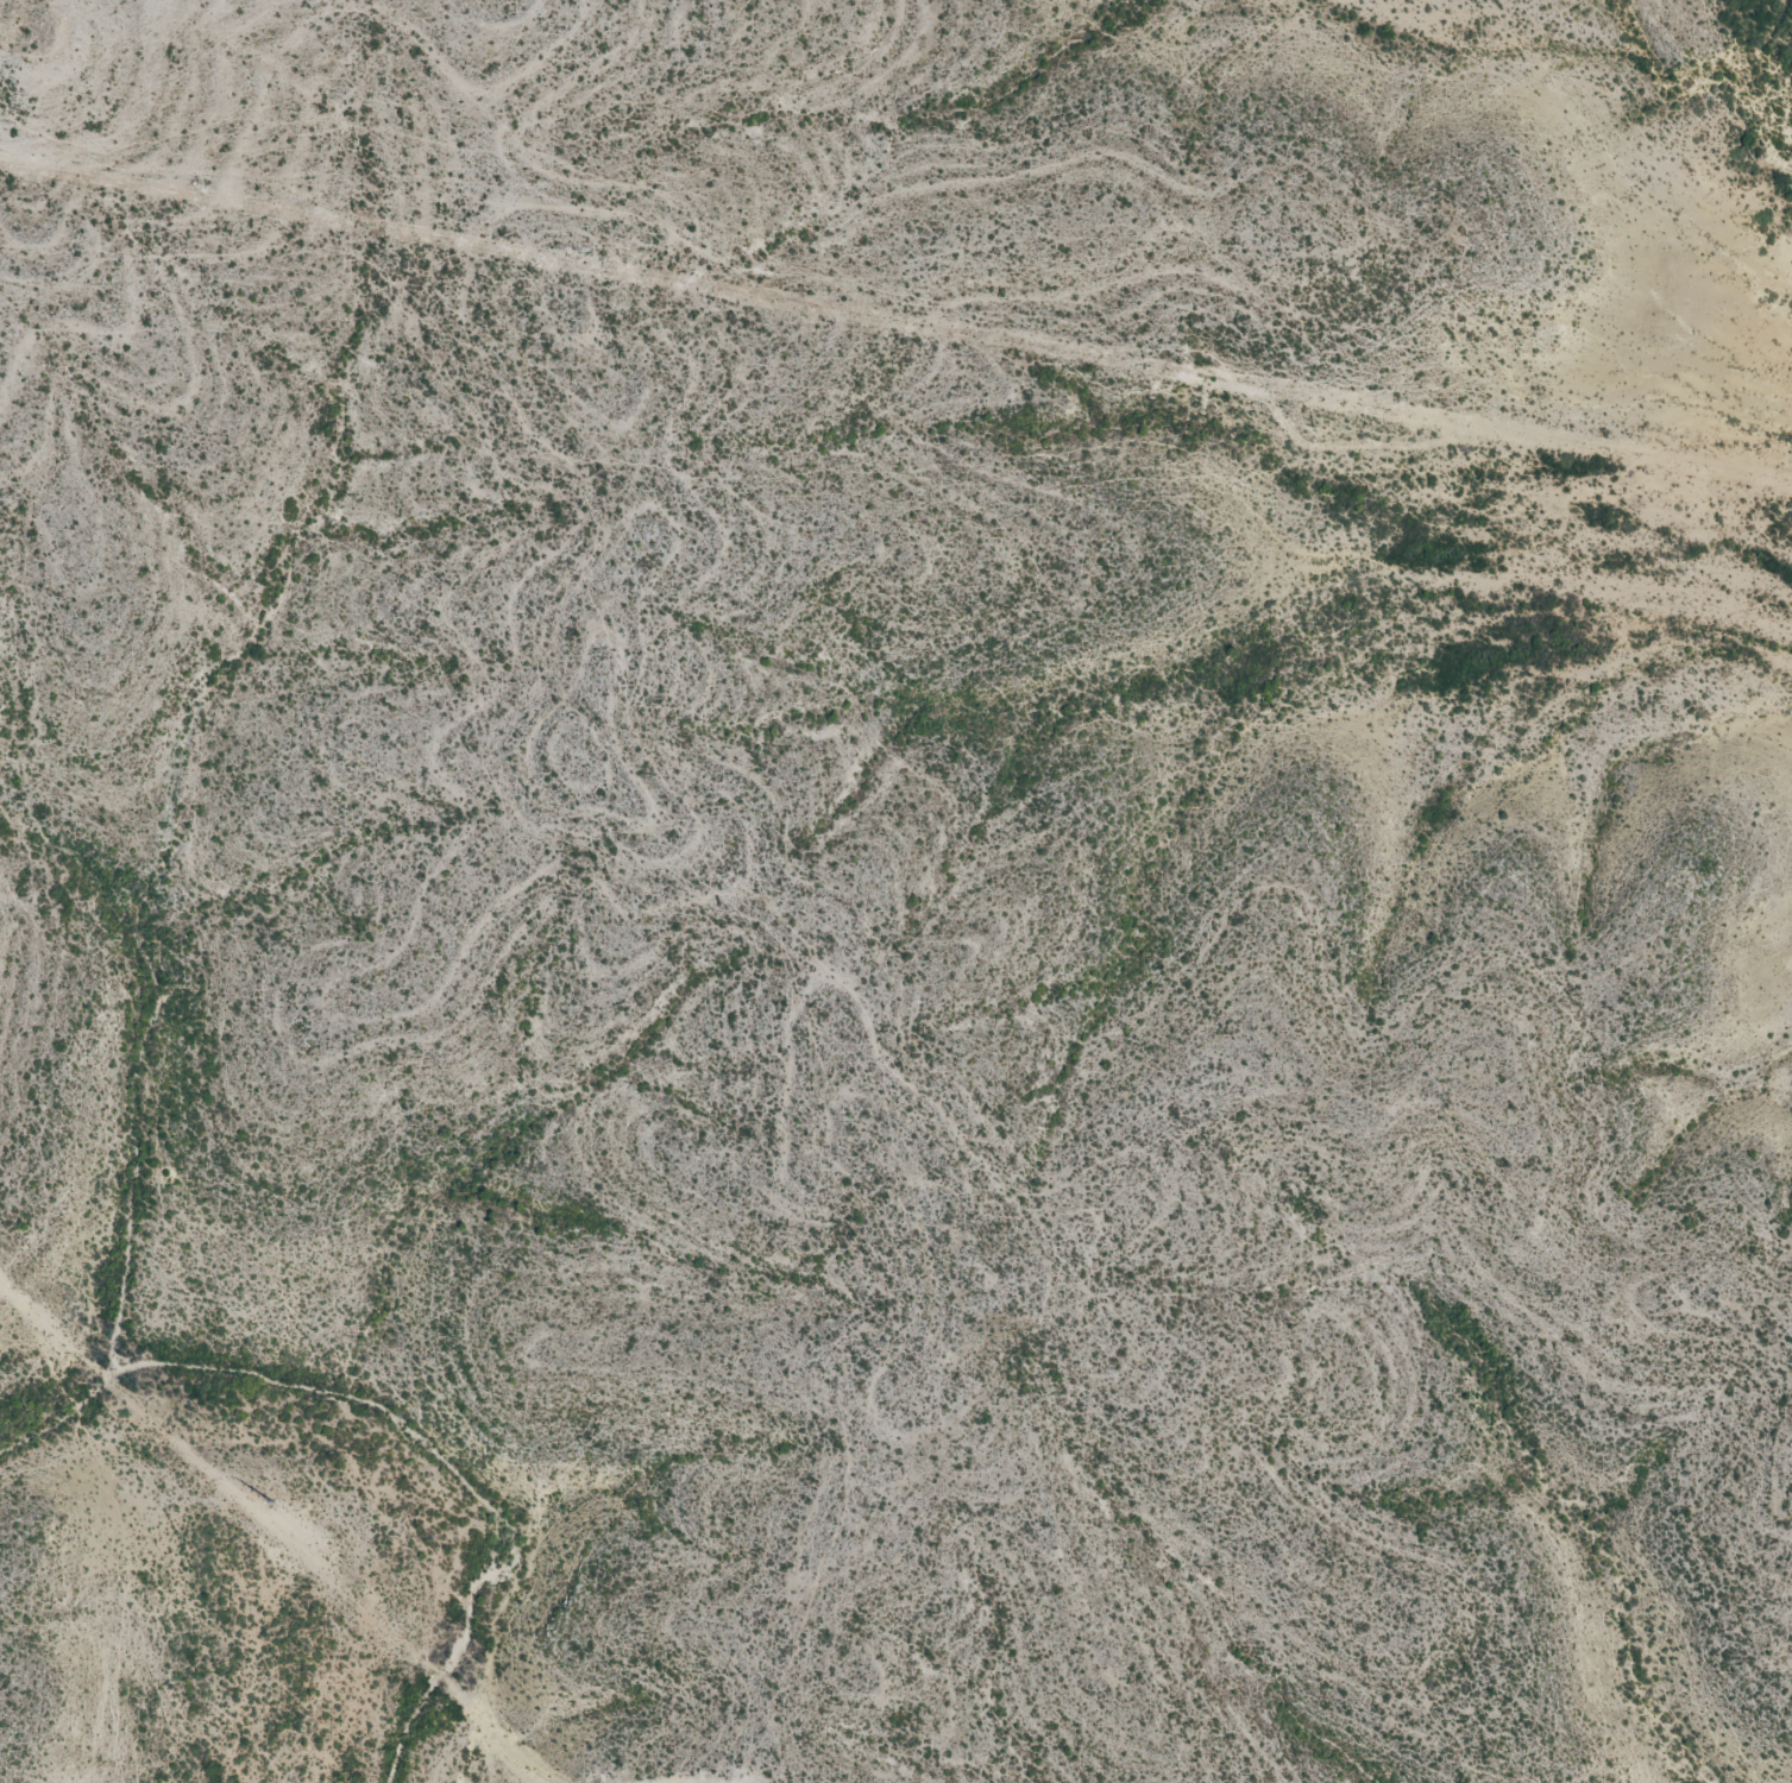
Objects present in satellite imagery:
power tower: (269, 1501)

